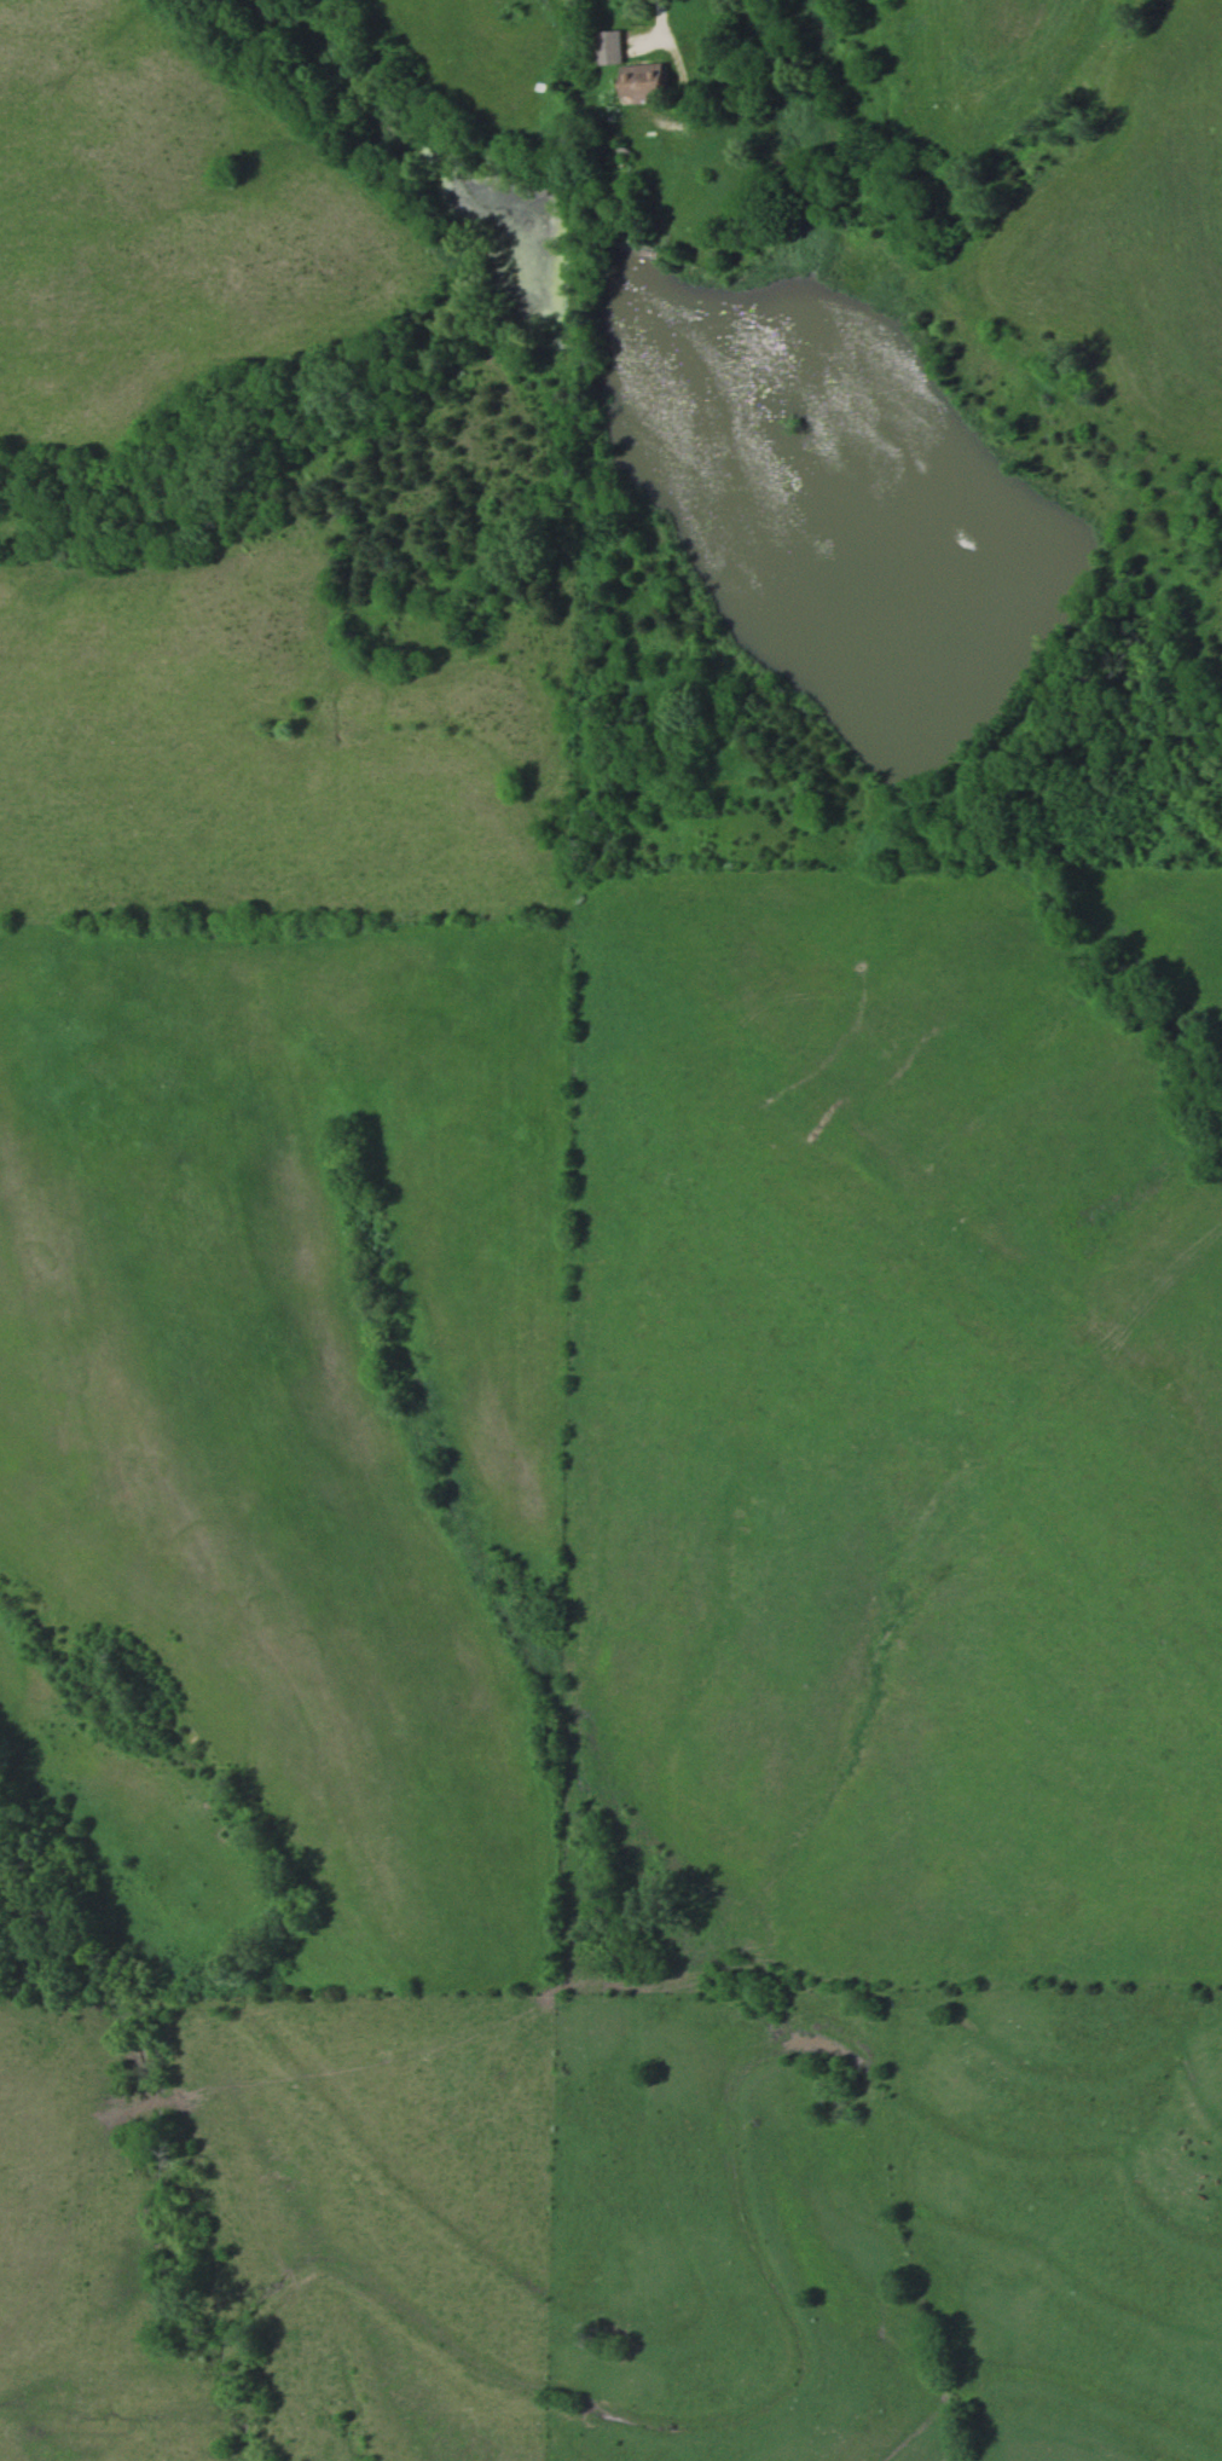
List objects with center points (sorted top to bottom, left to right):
road: (662, 13)
building: (603, 47)
building: (637, 82)

